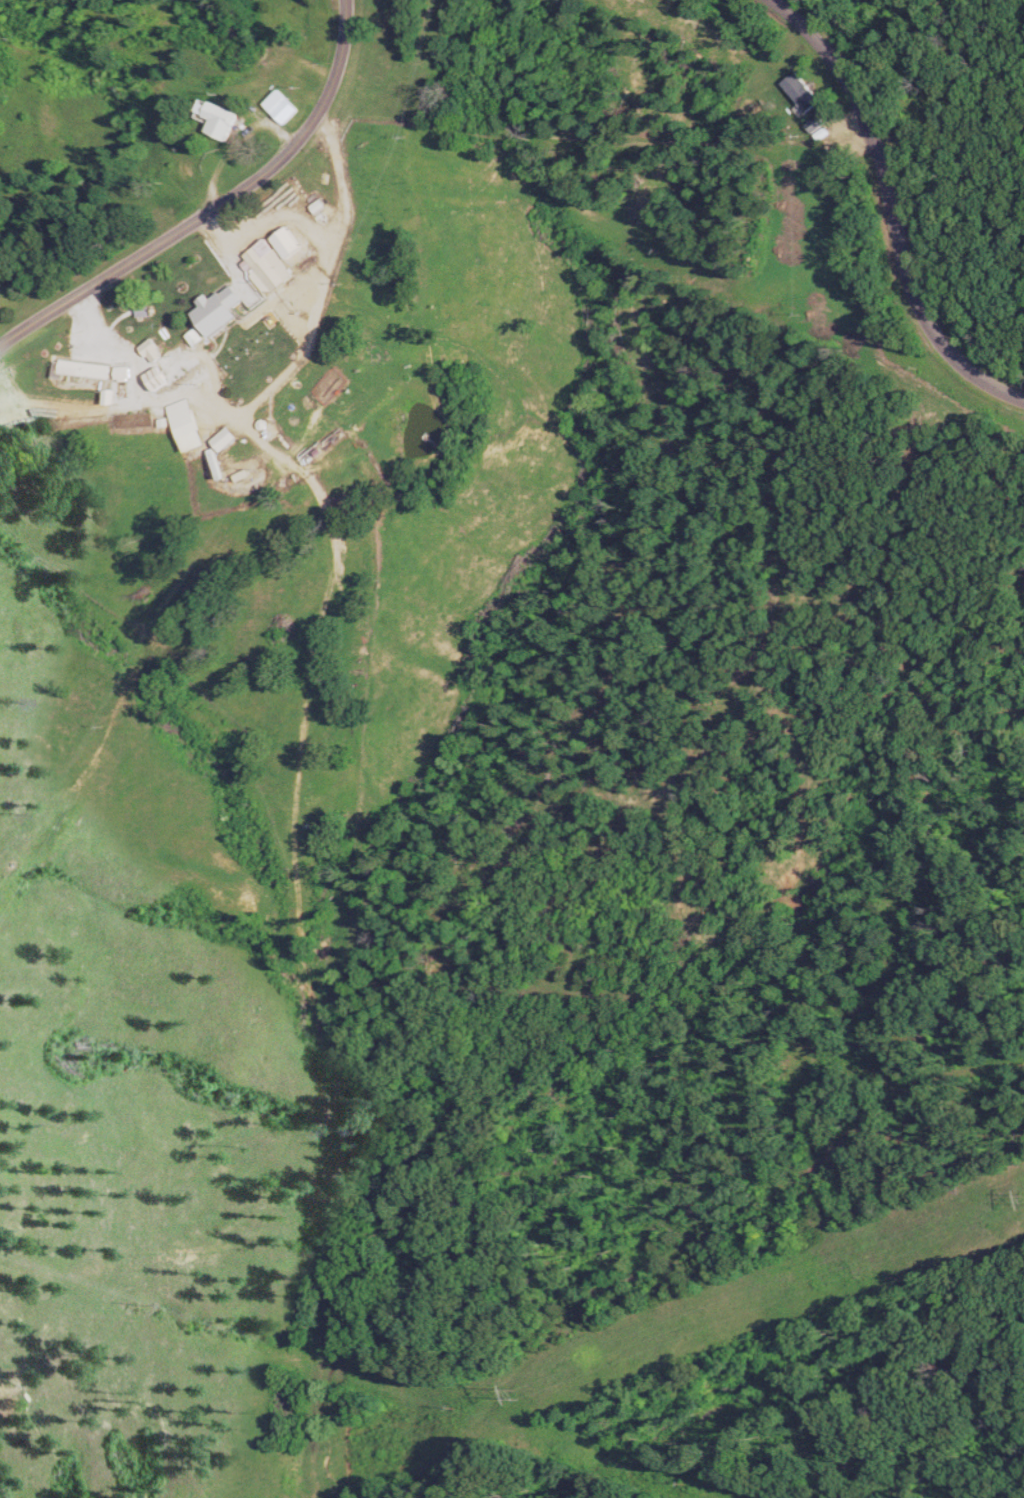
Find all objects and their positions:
building: (284, 108)
building: (223, 122)
road: (916, 200)
road: (216, 206)
road: (271, 214)
building: (291, 243)
building: (271, 266)
building: (138, 324)
building: (152, 347)
building: (87, 370)
road: (284, 375)
building: (192, 425)
building: (230, 438)
road: (710, 1238)

